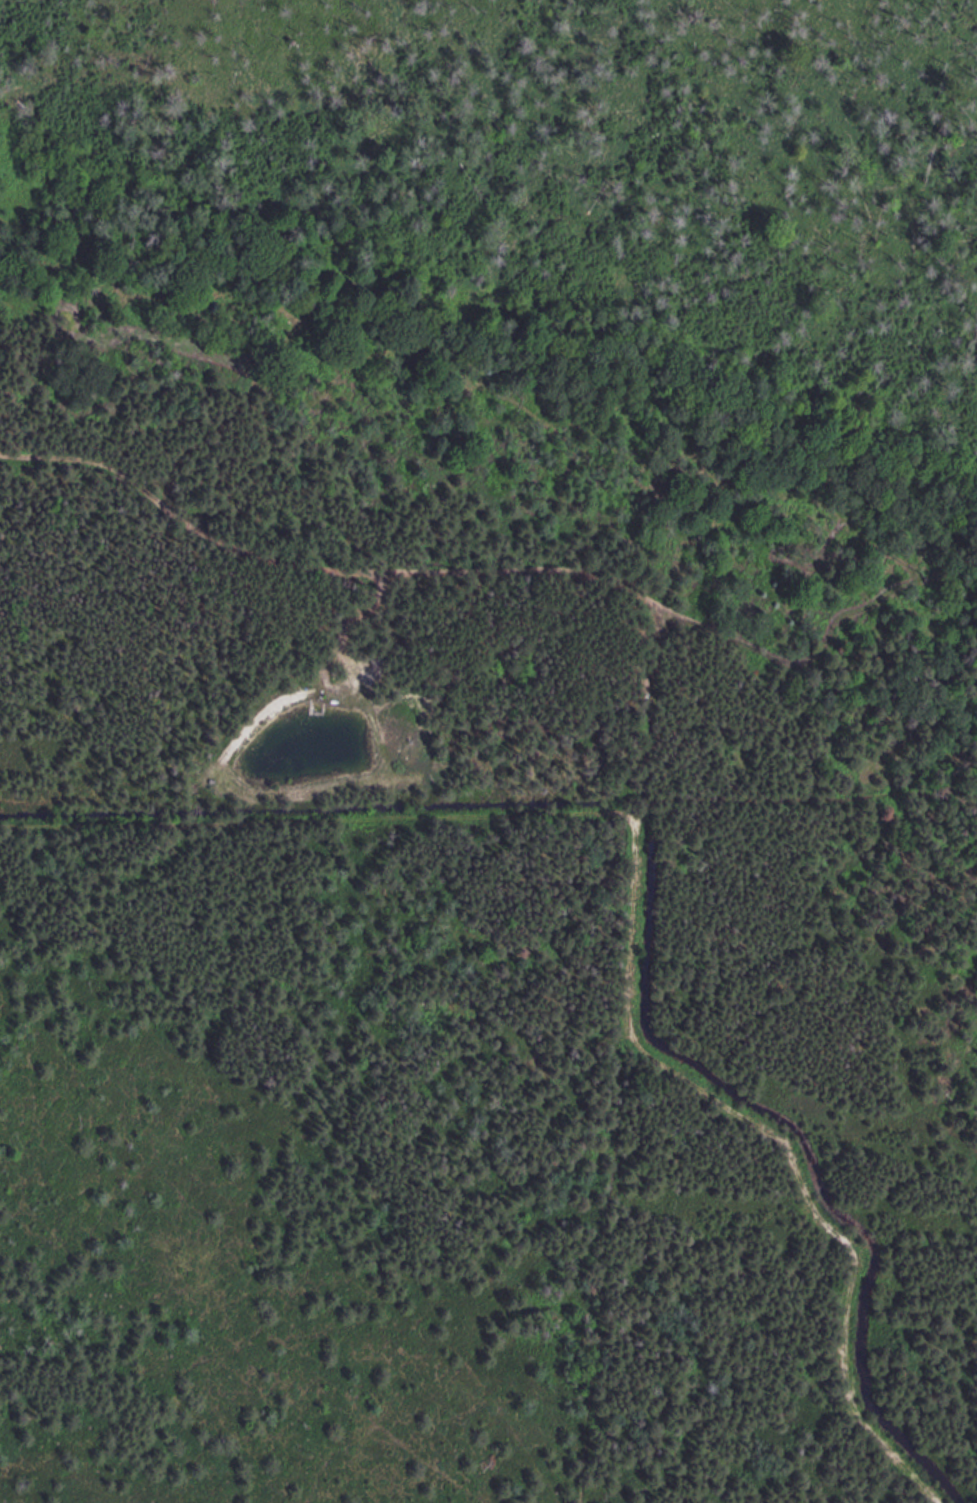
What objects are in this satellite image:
road: (489, 563)
road: (638, 893)

